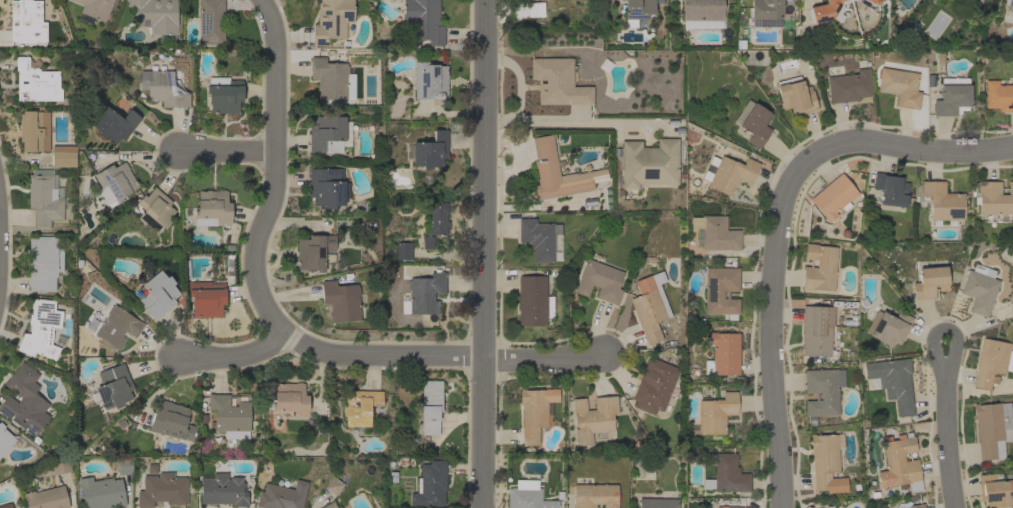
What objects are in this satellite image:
building: (874, 1)
building: (1009, 4)
building: (535, 8)
building: (93, 9)
building: (826, 10)
building: (636, 11)
building: (765, 12)
building: (701, 13)
building: (156, 17)
building: (331, 20)
building: (424, 20)
building: (26, 21)
building: (210, 22)
building: (331, 79)
building: (429, 80)
building: (36, 82)
building: (557, 82)
building: (849, 86)
building: (899, 86)
building: (166, 87)
building: (223, 94)
building: (795, 94)
building: (951, 95)
building: (998, 95)
building: (112, 122)
road: (582, 122)
building: (753, 122)
building: (34, 130)
building: (329, 134)
road: (879, 146)
building: (428, 150)
road: (227, 151)
building: (63, 156)
building: (648, 163)
building: (545, 164)
building: (731, 174)
building: (115, 182)
building: (326, 187)
building: (891, 189)
building: (833, 196)
building: (44, 198)
building: (994, 201)
building: (943, 202)
building: (213, 206)
building: (153, 210)
building: (435, 222)
building: (369, 227)
building: (714, 233)
building: (538, 237)
building: (403, 250)
building: (315, 252)
road: (484, 254)
building: (43, 262)
building: (819, 267)
road: (256, 269)
building: (599, 281)
building: (929, 281)
building: (979, 288)
building: (720, 290)
building: (155, 292)
building: (424, 294)
building: (206, 298)
building: (341, 300)
building: (533, 301)
building: (650, 308)
building: (113, 326)
building: (888, 327)
building: (41, 329)
building: (816, 330)
road: (234, 354)
building: (723, 354)
road: (769, 357)
road: (543, 360)
building: (991, 361)
building: (892, 382)
building: (654, 385)
building: (113, 387)
building: (822, 390)
building: (290, 398)
building: (24, 400)
building: (430, 406)
building: (360, 407)
building: (228, 413)
building: (532, 414)
building: (714, 414)
building: (592, 417)
building: (172, 421)
road: (947, 426)
building: (992, 429)
building: (4, 439)
building: (826, 462)
building: (899, 463)
building: (60, 465)
building: (124, 465)
building: (149, 468)
building: (726, 474)
building: (390, 477)
building: (429, 484)
building: (333, 485)
building: (161, 489)
building: (222, 489)
building: (995, 490)
building: (101, 492)
building: (281, 495)
building: (594, 495)
building: (527, 496)
building: (46, 498)
building: (657, 503)
building: (6, 505)
building: (328, 505)
building: (916, 505)
building: (728, 506)
building: (338, 507)

